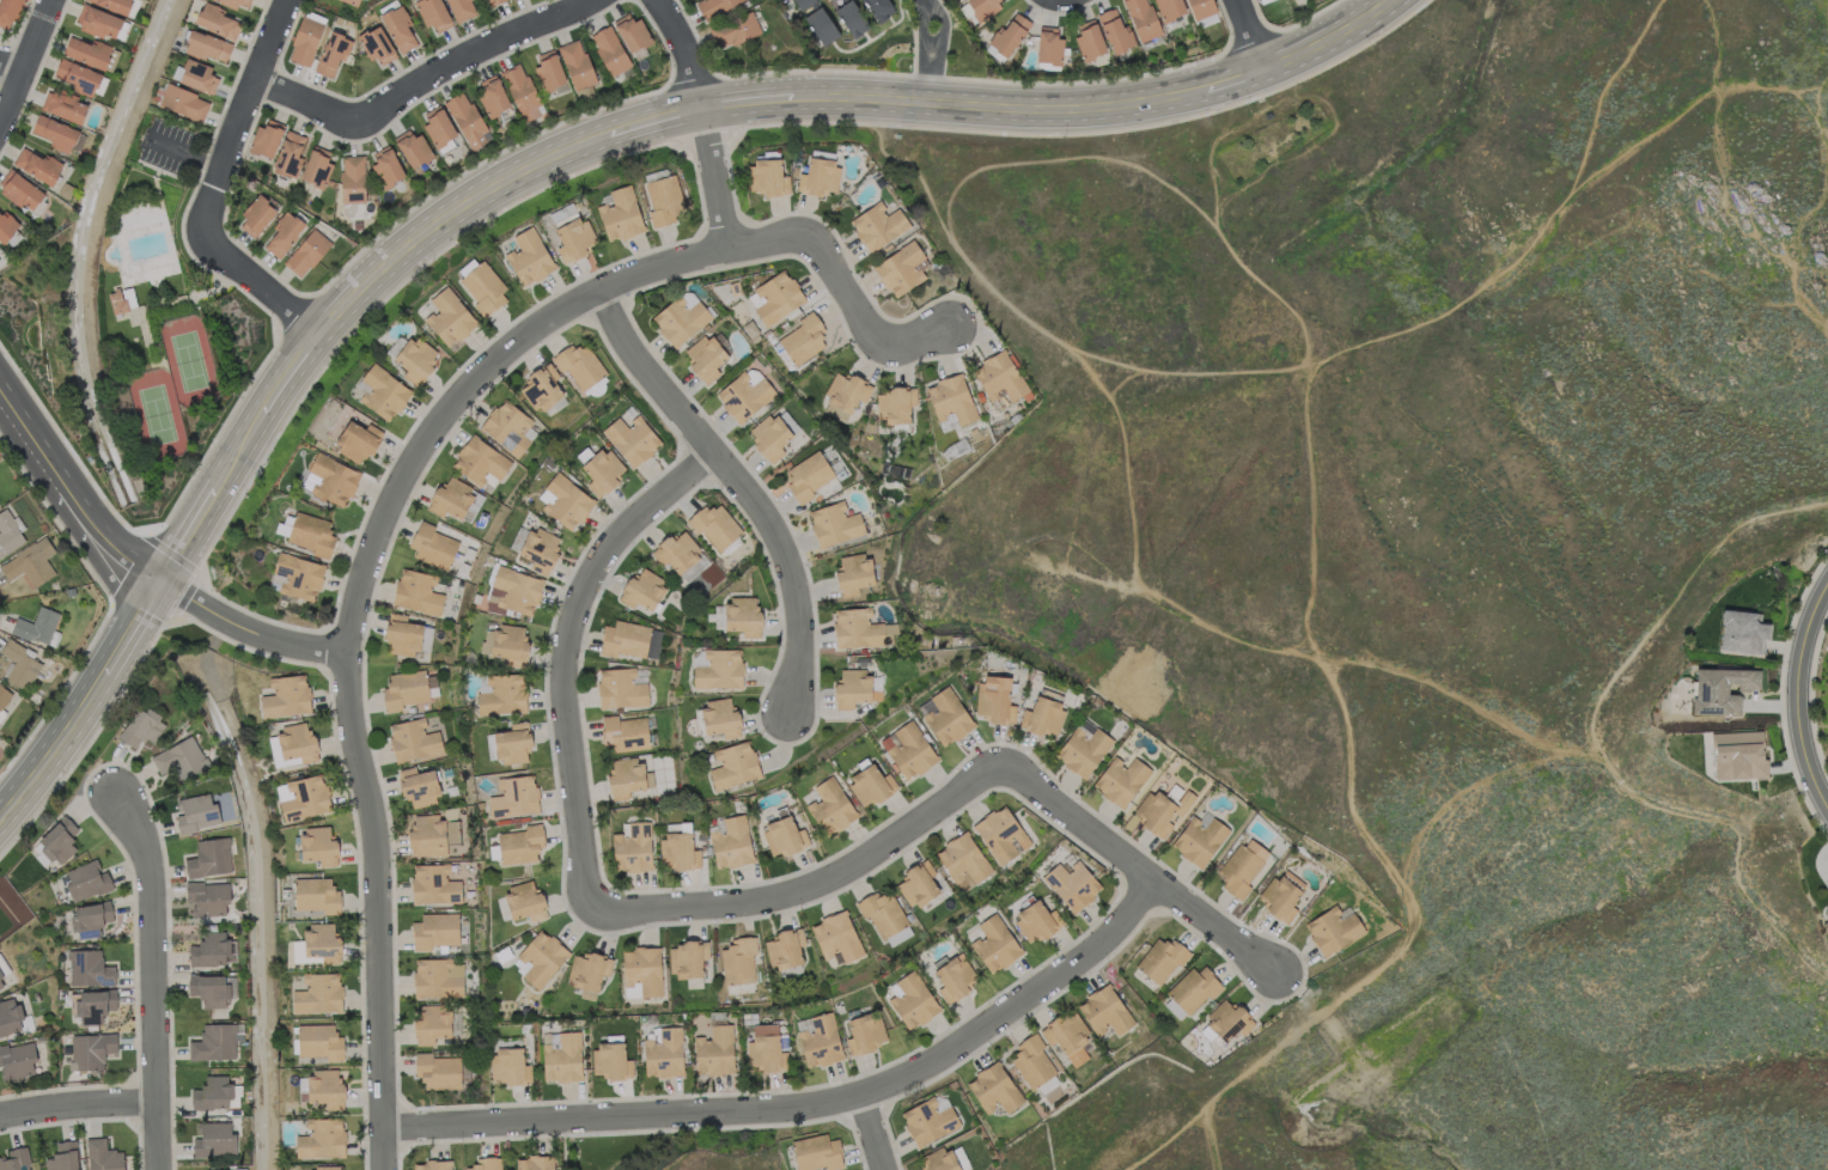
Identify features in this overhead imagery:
building: (493, 1)
building: (234, 2)
building: (353, 2)
building: (802, 2)
building: (112, 4)
building: (712, 6)
building: (982, 6)
building: (1200, 7)
building: (459, 8)
building: (878, 8)
building: (1169, 8)
building: (8, 12)
building: (433, 13)
building: (851, 18)
building: (1141, 18)
building: (217, 20)
building: (98, 22)
building: (821, 25)
building: (398, 28)
building: (733, 30)
building: (1115, 31)
building: (632, 32)
road: (1247, 33)
building: (1007, 35)
building: (1089, 39)
building: (304, 41)
road: (930, 43)
road: (1716, 43)
building: (207, 45)
building: (377, 45)
building: (1048, 45)
road: (938, 48)
building: (609, 49)
road: (920, 50)
building: (86, 51)
building: (331, 51)
road: (26, 59)
building: (575, 63)
road: (10, 71)
building: (548, 71)
building: (77, 77)
building: (199, 77)
road: (419, 80)
building: (520, 91)
building: (490, 95)
building: (183, 102)
building: (63, 104)
building: (467, 120)
road: (701, 121)
building: (438, 126)
building: (55, 133)
building: (266, 139)
park: (1273, 146)
building: (412, 147)
building: (288, 153)
road: (547, 159)
building: (36, 164)
building: (385, 165)
building: (316, 166)
building: (767, 177)
building: (818, 177)
building: (352, 178)
road: (211, 189)
building: (20, 190)
building: (664, 200)
road: (1565, 203)
building: (620, 214)
building: (256, 215)
building: (877, 225)
building: (6, 226)
building: (282, 233)
building: (306, 252)
building: (528, 256)
building: (901, 268)
road: (836, 279)
building: (483, 287)
building: (774, 297)
building: (121, 299)
building: (447, 317)
building: (680, 319)
building: (803, 339)
building: (707, 357)
building: (414, 359)
building: (579, 365)
building: (998, 377)
building: (541, 388)
building: (382, 391)
building: (743, 394)
building: (845, 394)
building: (950, 398)
building: (895, 404)
building: (507, 427)
building: (772, 434)
building: (630, 438)
building: (357, 441)
road: (30, 459)
building: (479, 461)
building: (602, 470)
building: (808, 475)
road: (74, 477)
building: (330, 479)
road: (738, 483)
building: (563, 501)
building: (834, 523)
building: (284, 524)
building: (715, 526)
building: (311, 534)
building: (432, 546)
building: (538, 549)
building: (676, 552)
road: (97, 557)
building: (29, 562)
building: (853, 573)
building: (295, 575)
building: (641, 590)
building: (513, 591)
building: (416, 592)
road: (351, 615)
building: (742, 615)
building: (36, 626)
building: (860, 628)
road: (246, 632)
building: (1742, 632)
building: (401, 635)
building: (426, 638)
building: (630, 639)
building: (505, 644)
road: (1287, 647)
building: (19, 664)
building: (718, 669)
road: (1800, 684)
building: (431, 685)
building: (620, 688)
building: (853, 688)
building: (403, 689)
building: (1719, 689)
building: (501, 694)
building: (285, 696)
building: (2, 697)
building: (994, 699)
building: (945, 715)
building: (1042, 717)
building: (719, 718)
building: (141, 726)
building: (623, 732)
building: (413, 739)
road: (1594, 739)
building: (295, 742)
building: (512, 742)
building: (908, 749)
building: (1081, 749)
building: (1737, 755)
building: (179, 758)
building: (733, 764)
building: (626, 776)
building: (1120, 779)
building: (871, 784)
building: (418, 786)
building: (304, 797)
building: (513, 797)
building: (829, 806)
building: (1162, 811)
building: (196, 812)
building: (431, 834)
building: (1000, 834)
building: (782, 836)
building: (1199, 837)
building: (57, 840)
building: (731, 842)
building: (519, 845)
building: (318, 846)
building: (632, 847)
building: (678, 851)
building: (208, 858)
building: (962, 860)
road: (1133, 866)
building: (1241, 867)
road: (583, 878)
building: (86, 879)
building: (918, 883)
building: (433, 884)
building: (1072, 884)
building: (315, 895)
building: (1281, 895)
building: (207, 897)
building: (523, 901)
building: (1826, 910)
building: (882, 913)
building: (91, 914)
building: (1036, 920)
building: (1826, 927)
building: (1332, 930)
building: (433, 931)
building: (87, 932)
building: (898, 934)
building: (836, 936)
building: (322, 942)
building: (994, 944)
building: (785, 947)
building: (208, 949)
building: (538, 957)
building: (738, 959)
building: (1160, 959)
building: (687, 961)
building: (2, 967)
building: (89, 968)
building: (641, 969)
road: (151, 971)
building: (587, 973)
building: (437, 977)
building: (953, 977)
building: (0, 985)
building: (1194, 988)
building: (208, 989)
building: (317, 993)
building: (910, 999)
building: (93, 1005)
building: (1174, 1008)
building: (1104, 1011)
building: (10, 1016)
building: (1227, 1019)
building: (431, 1025)
road: (1499, 1026)
building: (864, 1032)
building: (1067, 1036)
building: (818, 1038)
building: (318, 1041)
building: (214, 1042)
building: (766, 1048)
building: (90, 1049)
building: (713, 1050)
building: (663, 1052)
building: (560, 1056)
building: (17, 1060)
building: (611, 1060)
building: (1031, 1061)
building: (508, 1065)
building: (437, 1071)
building: (1047, 1084)
building: (324, 1089)
building: (993, 1089)
building: (211, 1092)
road: (75, 1105)
road: (804, 1107)
building: (927, 1121)
road: (870, 1133)
building: (321, 1138)
building: (213, 1139)
road: (1205, 1141)
building: (816, 1152)
building: (103, 1156)
building: (62, 1157)
building: (14, 1159)
building: (944, 1159)
building: (486, 1163)
building: (534, 1163)
building: (432, 1165)
building: (323, 1168)
building: (221, 1169)

